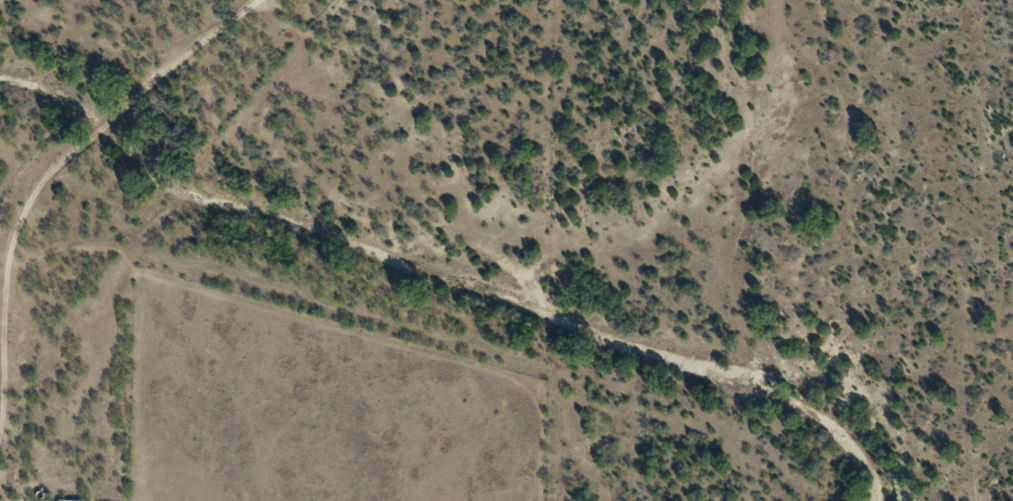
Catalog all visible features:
road: (55, 179)
road: (13, 478)

